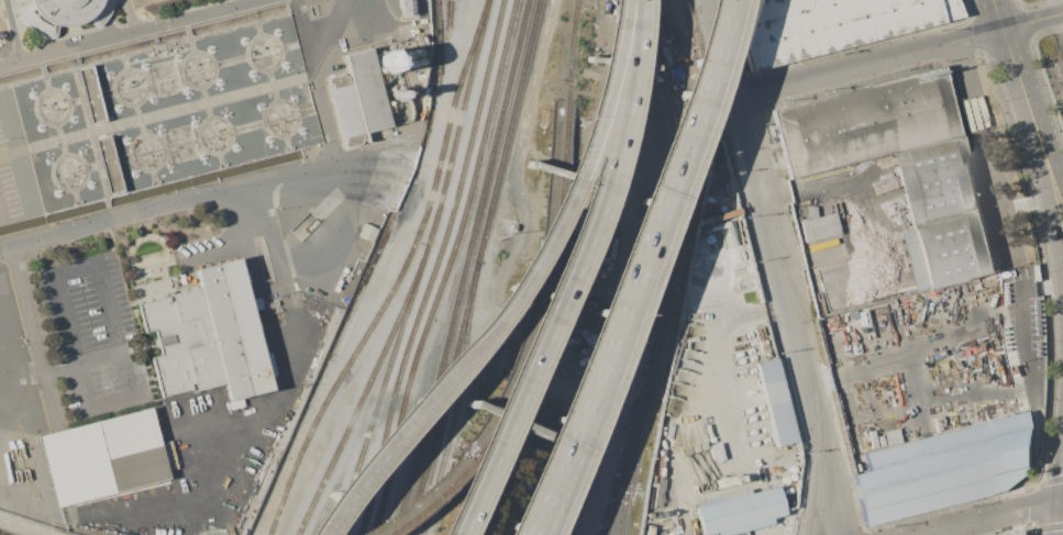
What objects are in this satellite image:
building: (16, 0)
building: (407, 8)
road: (1056, 8)
building: (62, 13)
road: (1000, 14)
road: (1061, 20)
road: (1034, 22)
building: (835, 25)
road: (350, 29)
road: (129, 33)
railway: (440, 42)
railway: (573, 52)
road: (1016, 63)
road: (870, 65)
road: (1042, 71)
parking lot: (1056, 77)
building: (90, 94)
building: (358, 98)
road: (1045, 137)
road: (985, 148)
road: (333, 152)
road: (668, 156)
building: (109, 165)
building: (901, 166)
road: (369, 171)
road: (1047, 177)
parking lot: (7, 190)
road: (167, 203)
road: (554, 220)
park: (1062, 221)
building: (819, 227)
building: (367, 233)
wastewater plant: (185, 239)
road: (259, 248)
parking lot: (204, 250)
road: (213, 253)
road: (251, 265)
road: (779, 265)
railway: (444, 267)
railway: (435, 268)
railway: (462, 268)
railway: (475, 268)
railway: (419, 269)
railway: (668, 269)
road: (566, 274)
railway: (399, 276)
road: (110, 311)
building: (208, 335)
road: (718, 335)
parking lot: (90, 336)
road: (33, 337)
railway: (529, 343)
road: (4, 356)
road: (59, 365)
railway: (365, 390)
building: (776, 402)
railway: (453, 411)
parking lot: (245, 412)
road: (576, 422)
road: (566, 423)
road: (237, 431)
building: (102, 456)
road: (364, 468)
building: (945, 468)
railway: (628, 470)
road: (835, 494)
road: (1062, 498)
road: (1061, 508)
railway: (612, 510)
building: (739, 511)
road: (989, 516)
road: (23, 527)
road: (1061, 527)
park: (1062, 528)
building: (1019, 533)

